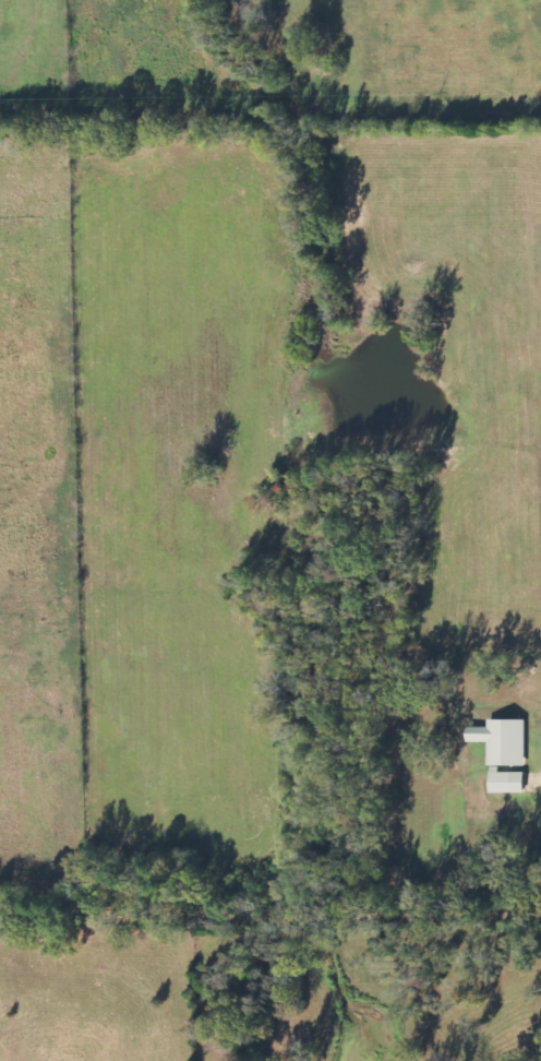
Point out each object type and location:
building: (506, 752)
road: (534, 777)
road: (269, 909)

